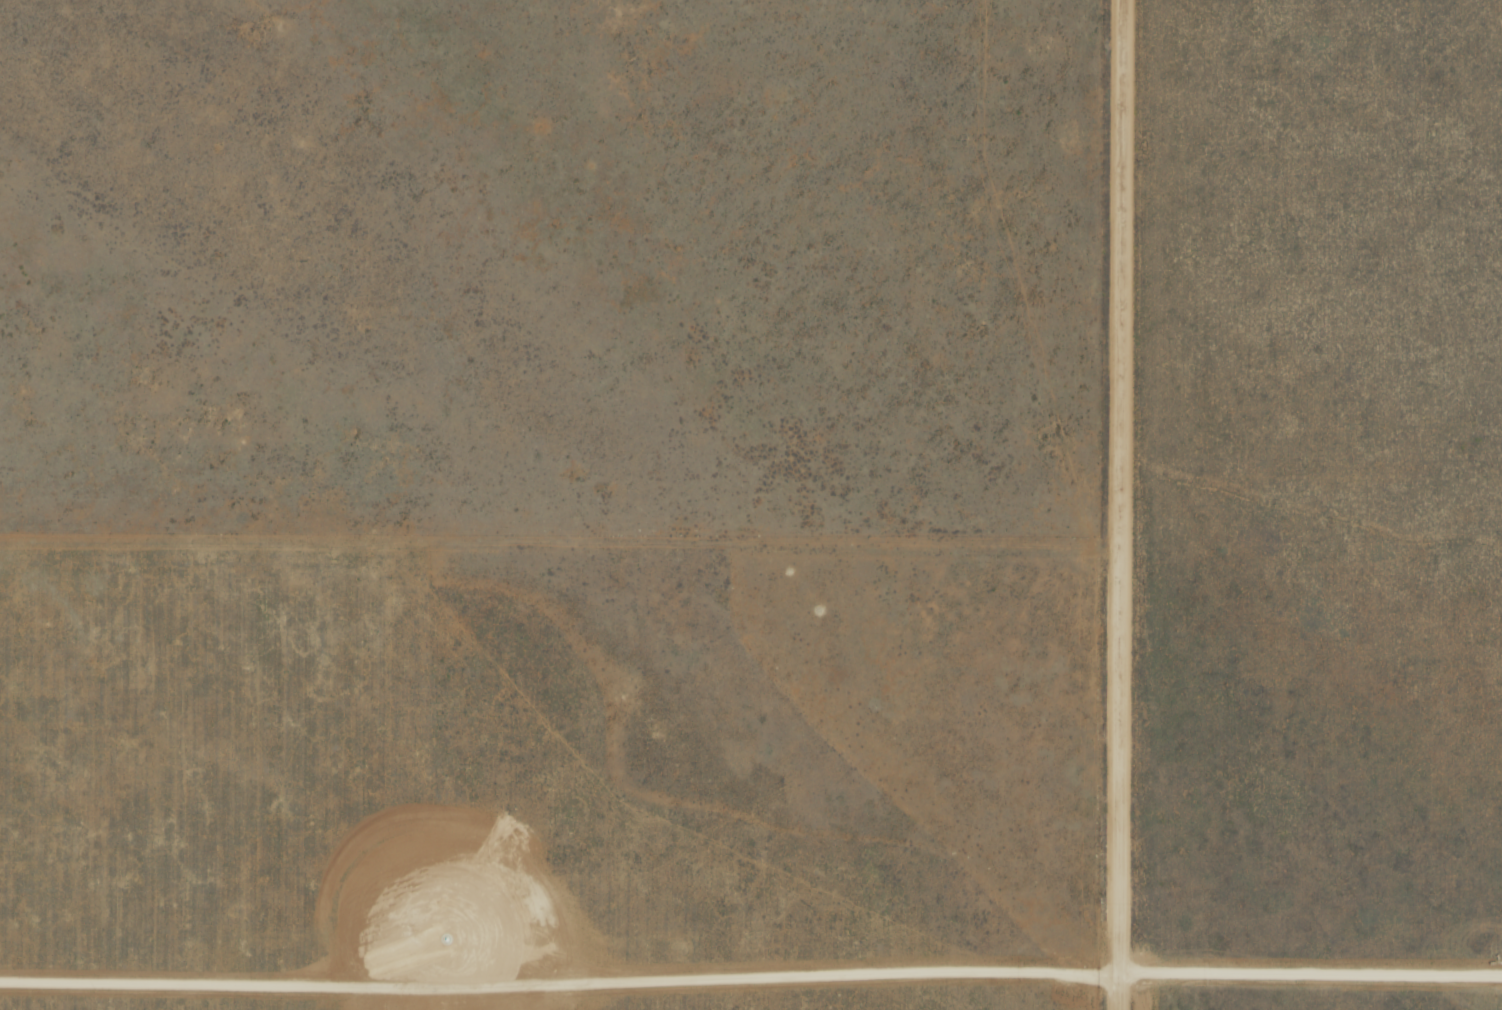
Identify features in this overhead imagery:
road: (1130, 505)
wind turbine: (429, 949)

